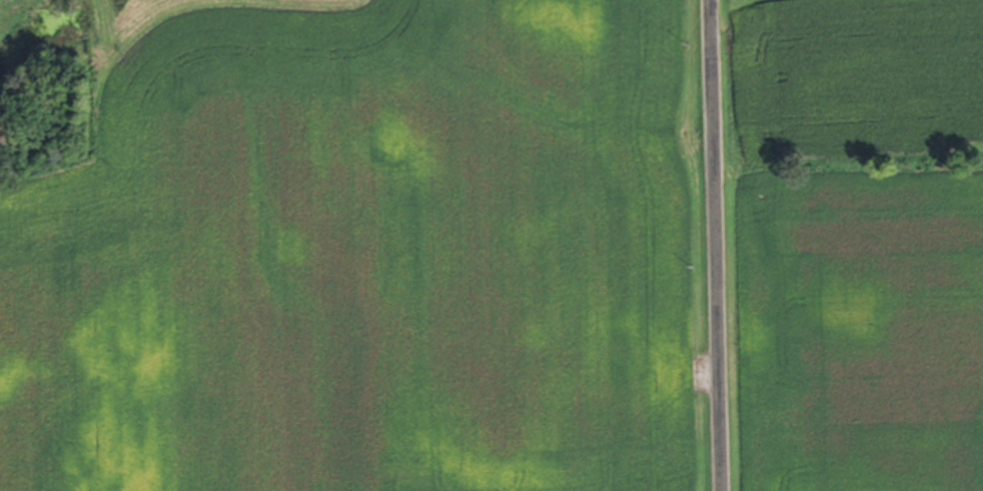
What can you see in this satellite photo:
road: (713, 245)

